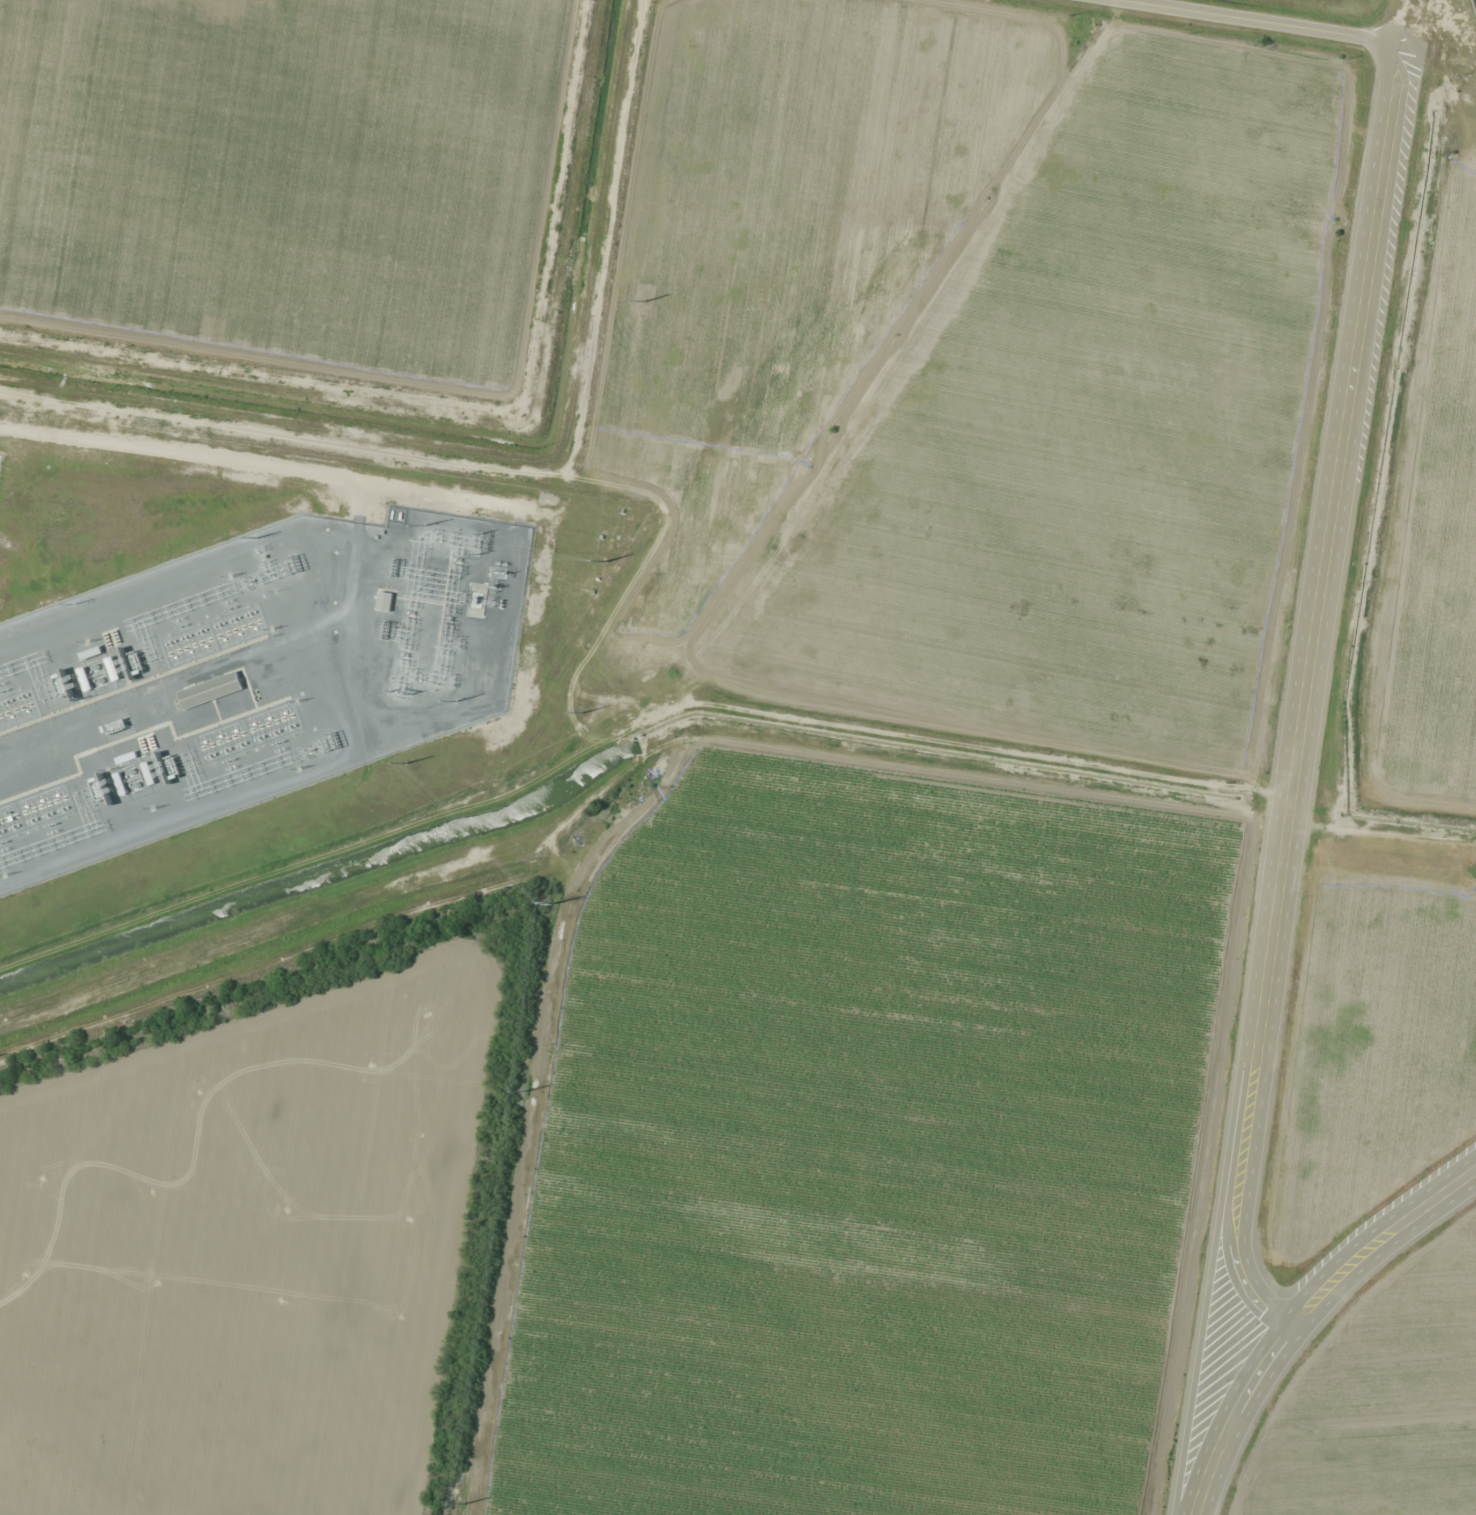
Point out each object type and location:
road: (1323, 564)
building: (384, 601)
power substation: (246, 675)
building: (210, 689)
road: (1301, 1315)

